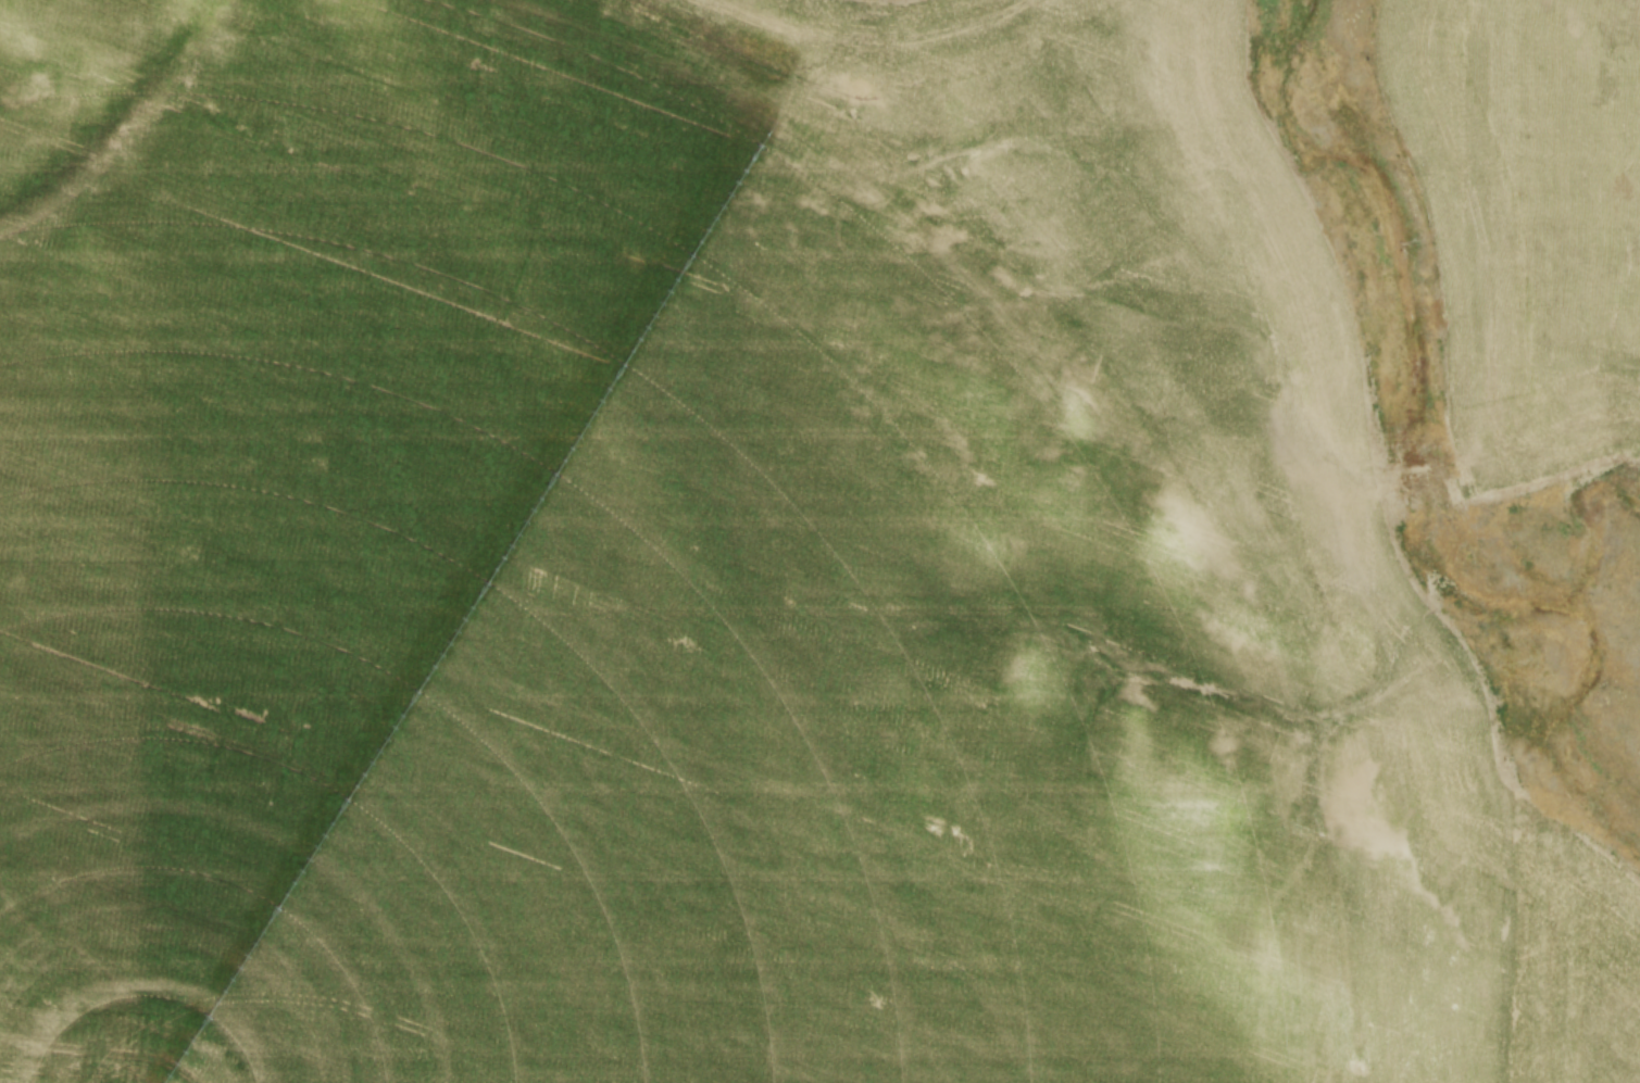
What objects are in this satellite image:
crop: (703, 561)

